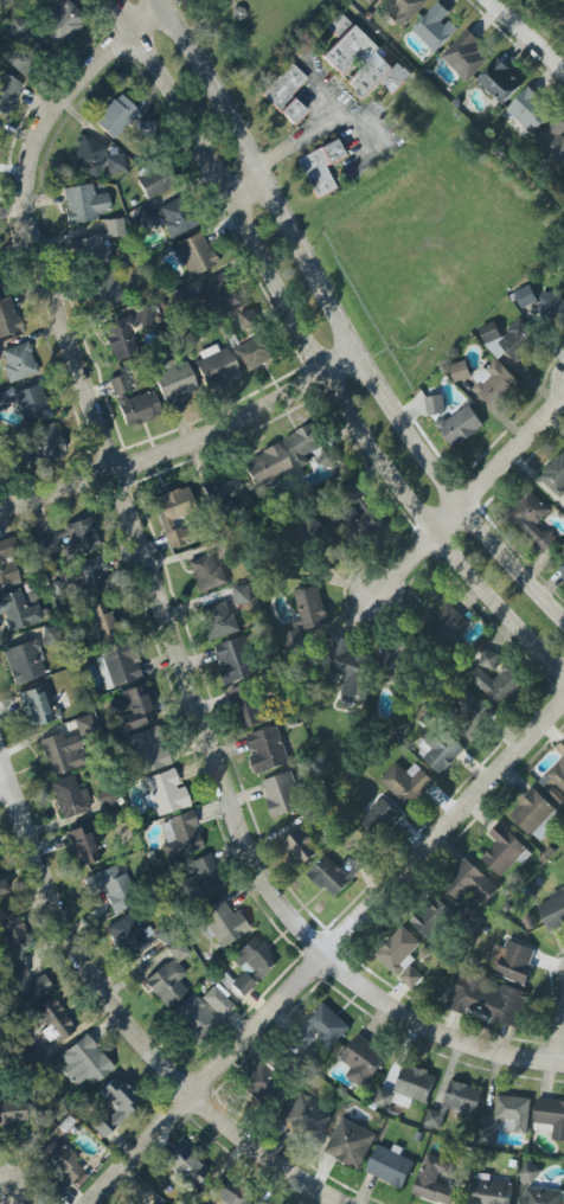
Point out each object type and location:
building: (366, 0)
building: (4, 1)
building: (403, 8)
building: (563, 19)
building: (60, 20)
building: (435, 26)
road: (528, 33)
building: (27, 55)
building: (466, 56)
building: (360, 59)
building: (499, 81)
building: (6, 92)
building: (284, 94)
building: (528, 109)
building: (114, 116)
road: (308, 128)
building: (552, 140)
building: (86, 155)
building: (114, 164)
building: (318, 167)
building: (154, 180)
building: (82, 203)
building: (142, 217)
building: (174, 217)
building: (113, 226)
building: (90, 251)
building: (193, 254)
building: (0, 286)
building: (104, 289)
building: (216, 293)
building: (525, 295)
building: (552, 306)
building: (142, 315)
building: (7, 318)
building: (248, 318)
road: (347, 319)
building: (120, 338)
building: (508, 339)
building: (255, 352)
road: (322, 353)
building: (17, 361)
building: (214, 366)
building: (460, 370)
building: (172, 379)
building: (494, 382)
building: (117, 385)
building: (435, 403)
building: (31, 404)
building: (137, 408)
building: (460, 425)
road: (187, 440)
building: (45, 443)
building: (303, 444)
building: (328, 456)
building: (265, 466)
building: (555, 474)
building: (218, 486)
building: (358, 497)
road: (476, 507)
building: (169, 513)
building: (532, 519)
building: (366, 521)
building: (68, 538)
building: (6, 561)
building: (562, 570)
building: (206, 572)
building: (89, 577)
road: (165, 593)
building: (242, 593)
building: (17, 610)
building: (307, 614)
building: (218, 620)
building: (98, 621)
building: (447, 623)
building: (236, 659)
building: (488, 659)
building: (23, 661)
building: (393, 661)
building: (116, 664)
building: (348, 665)
building: (499, 683)
building: (250, 704)
building: (36, 705)
building: (132, 706)
building: (470, 716)
building: (82, 724)
building: (438, 747)
building: (147, 748)
building: (267, 749)
building: (59, 752)
building: (558, 767)
road: (6, 775)
building: (406, 782)
building: (164, 792)
building: (282, 793)
building: (66, 796)
building: (534, 813)
building: (379, 815)
building: (179, 834)
building: (79, 844)
building: (301, 845)
building: (504, 850)
building: (355, 862)
building: (328, 875)
building: (199, 877)
building: (468, 882)
building: (109, 888)
building: (1, 889)
building: (552, 910)
building: (431, 916)
building: (219, 922)
building: (11, 929)
building: (126, 935)
road: (316, 947)
building: (399, 954)
building: (512, 960)
building: (249, 963)
building: (167, 975)
building: (24, 981)
building: (486, 997)
building: (199, 1012)
road: (122, 1017)
building: (50, 1019)
building: (321, 1026)
road: (557, 1043)
building: (361, 1058)
building: (83, 1061)
building: (258, 1077)
building: (384, 1097)
building: (455, 1102)
building: (111, 1104)
building: (11, 1112)
building: (512, 1113)
building: (305, 1116)
building: (550, 1116)
building: (348, 1142)
building: (58, 1164)
building: (389, 1164)
building: (185, 1165)
building: (528, 1171)
road: (13, 1173)
building: (434, 1178)
building: (222, 1191)
building: (489, 1191)
building: (543, 1195)
building: (153, 1203)

